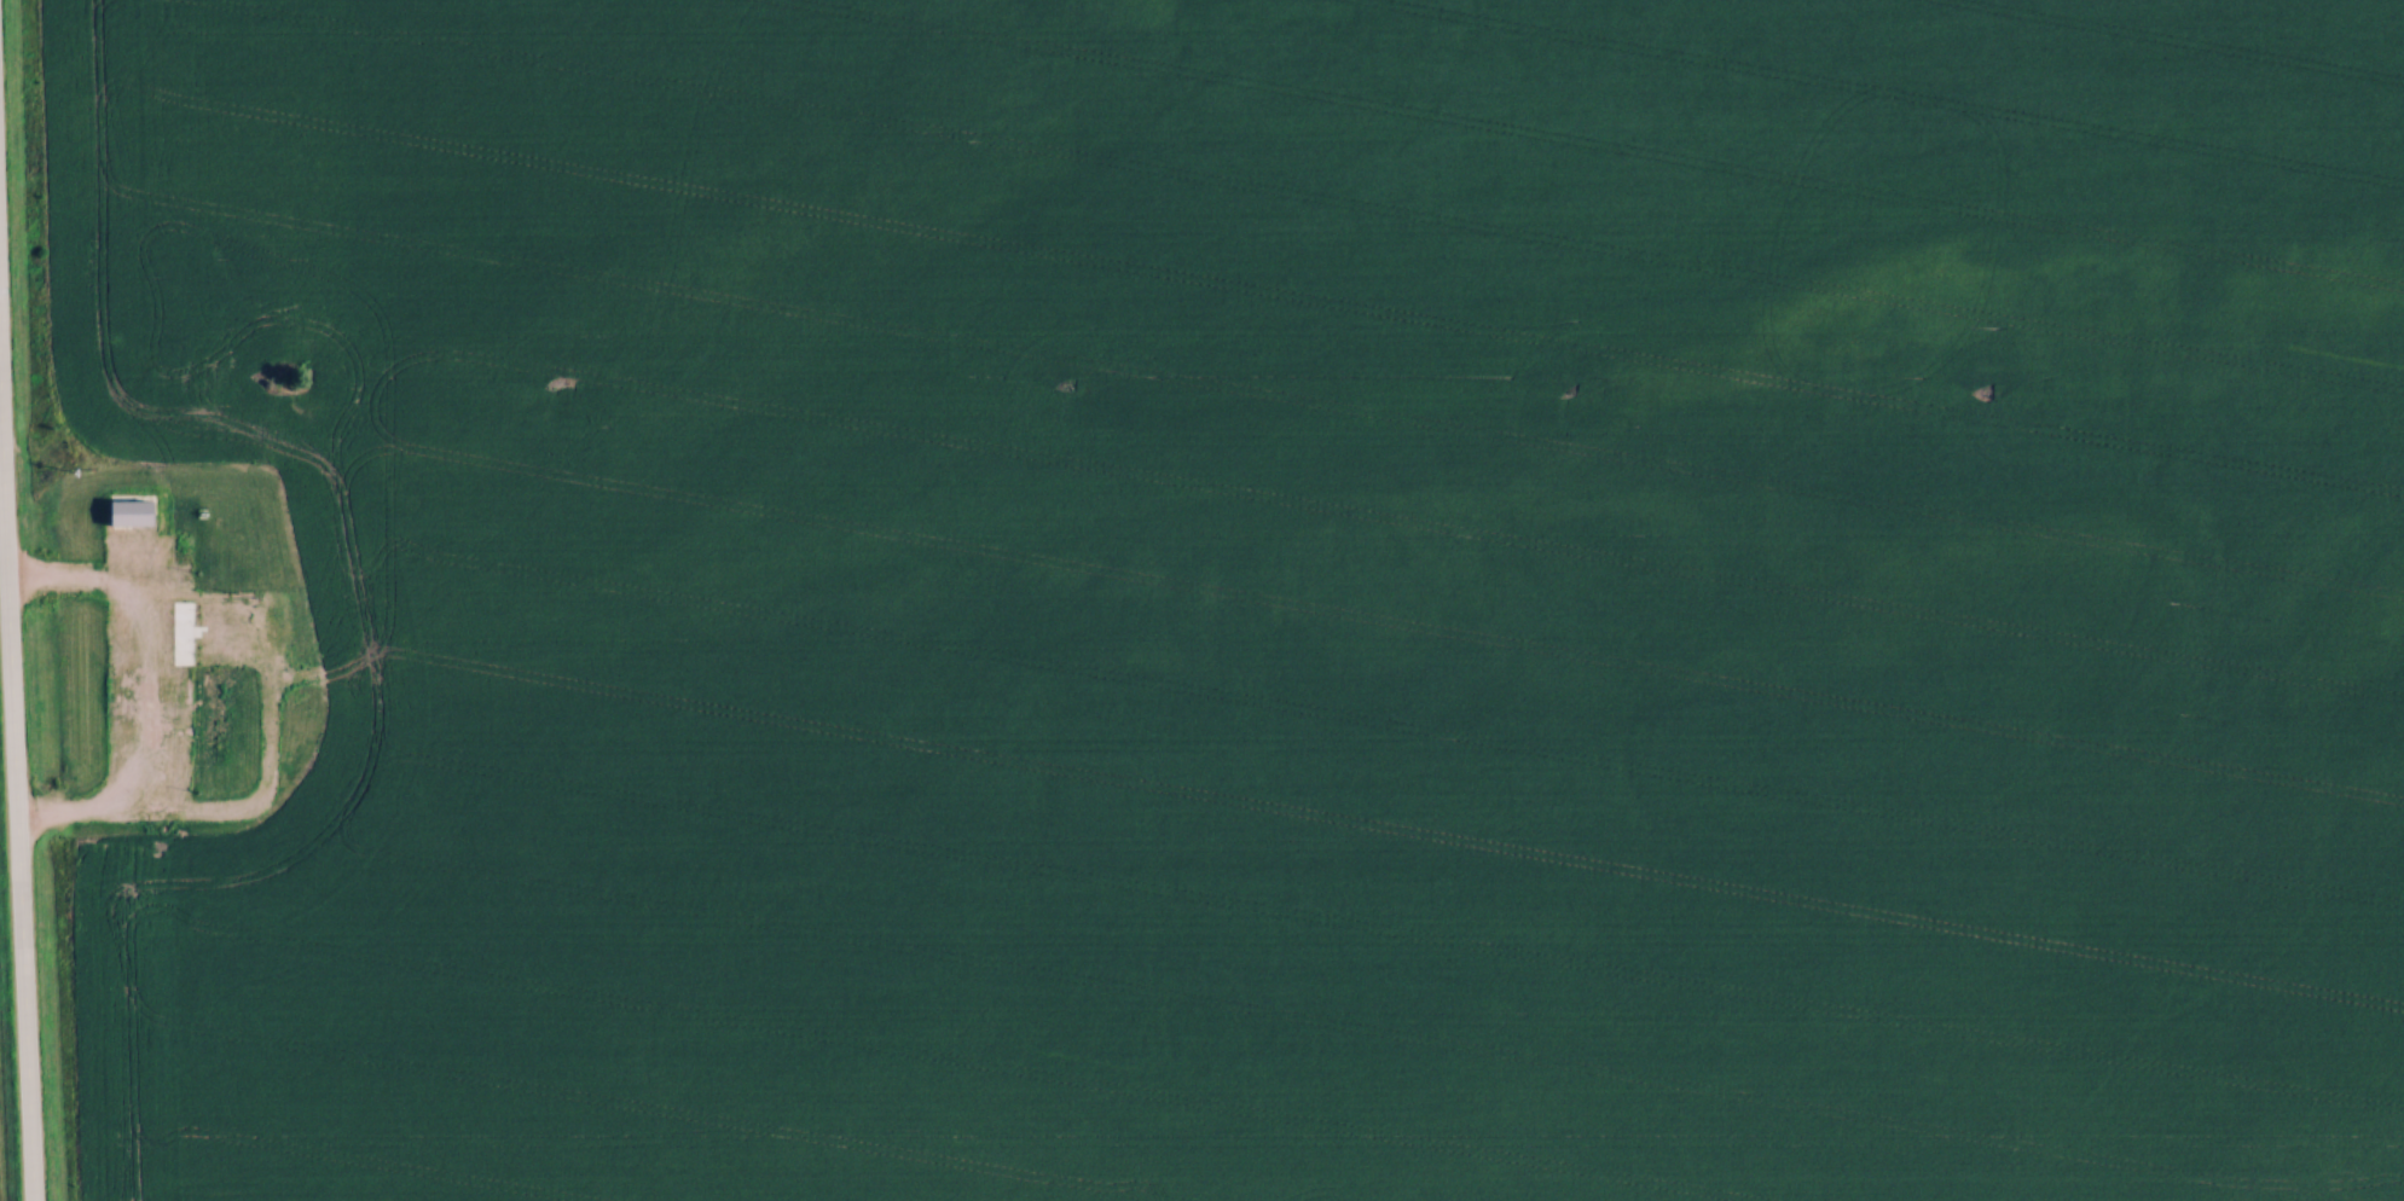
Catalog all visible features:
road: (15, 802)

